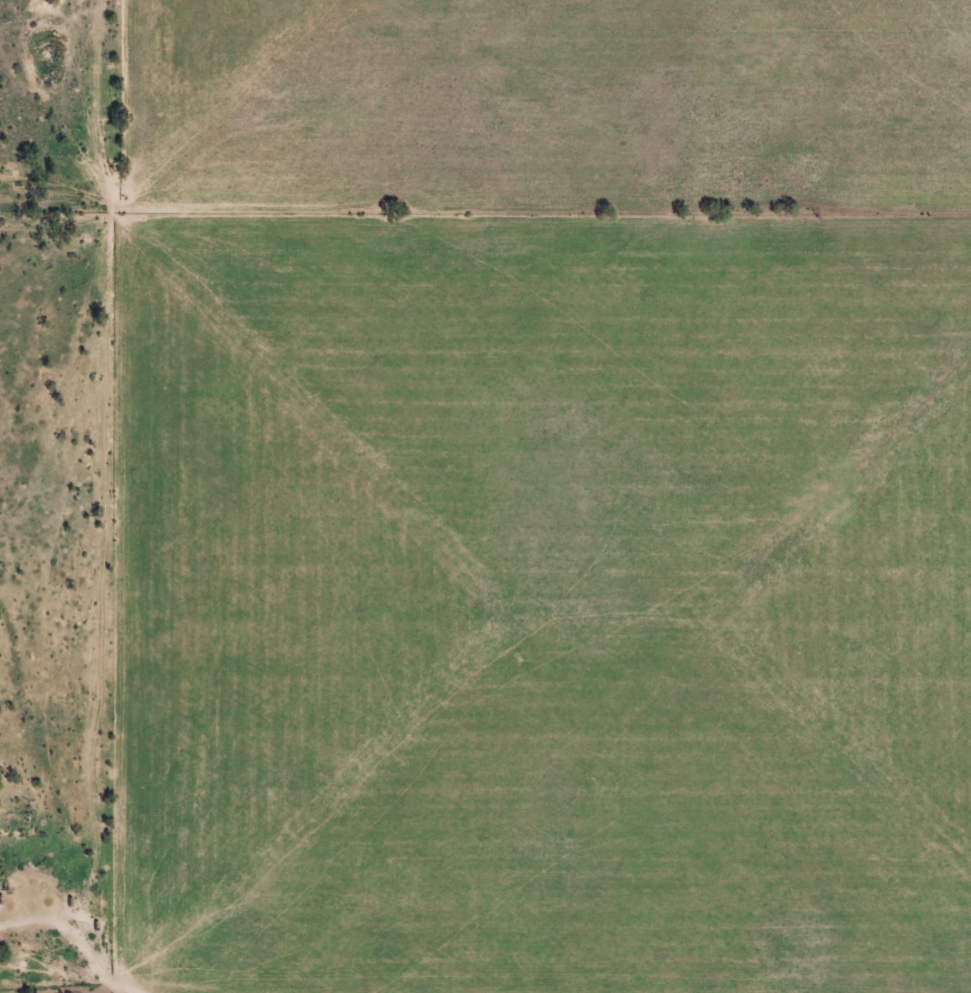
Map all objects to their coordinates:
road: (134, 987)

